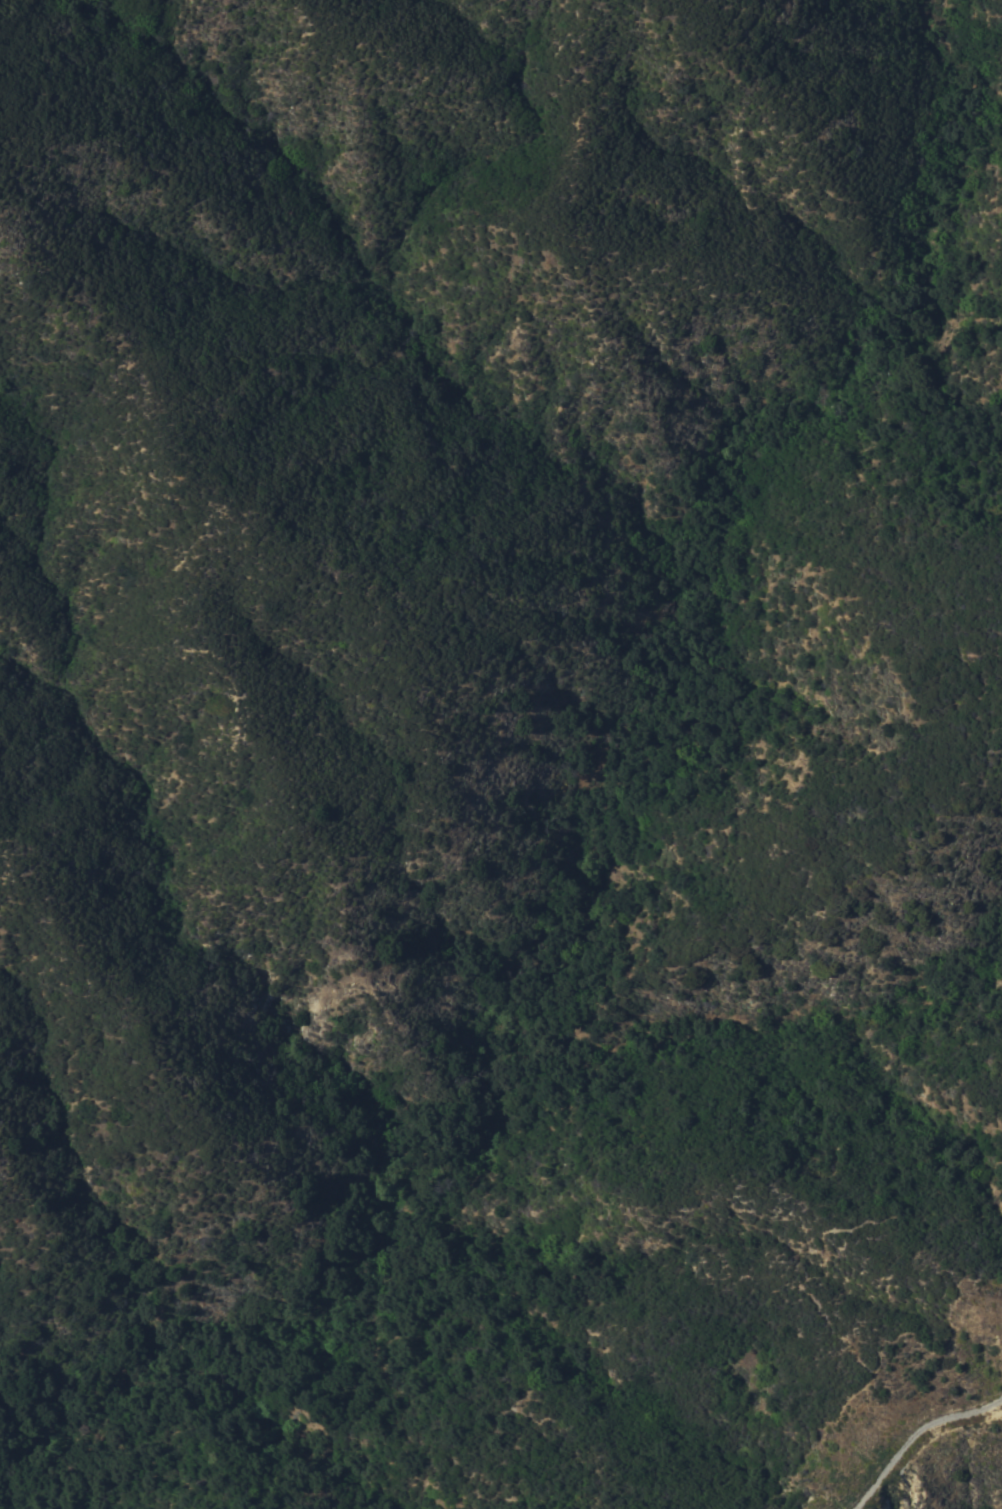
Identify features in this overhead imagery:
road: (915, 1435)

